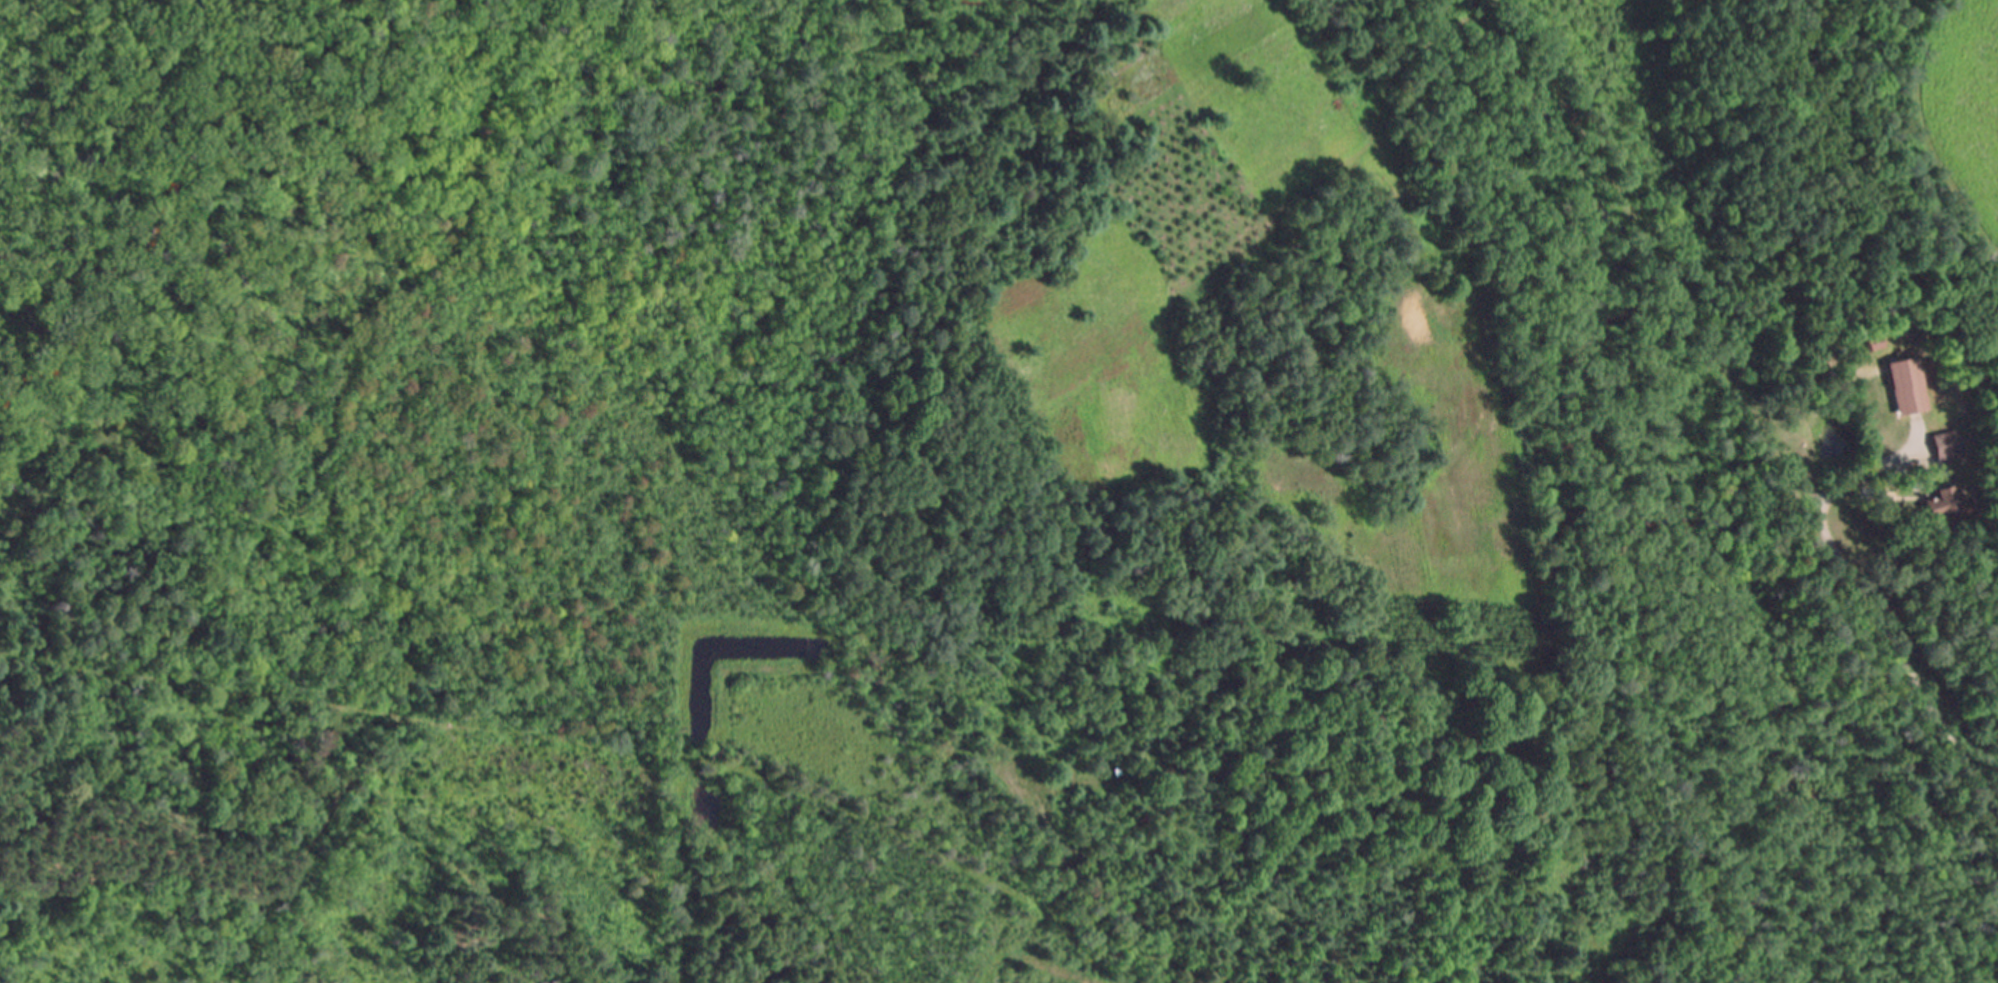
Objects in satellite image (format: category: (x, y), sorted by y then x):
road: (1914, 679)

